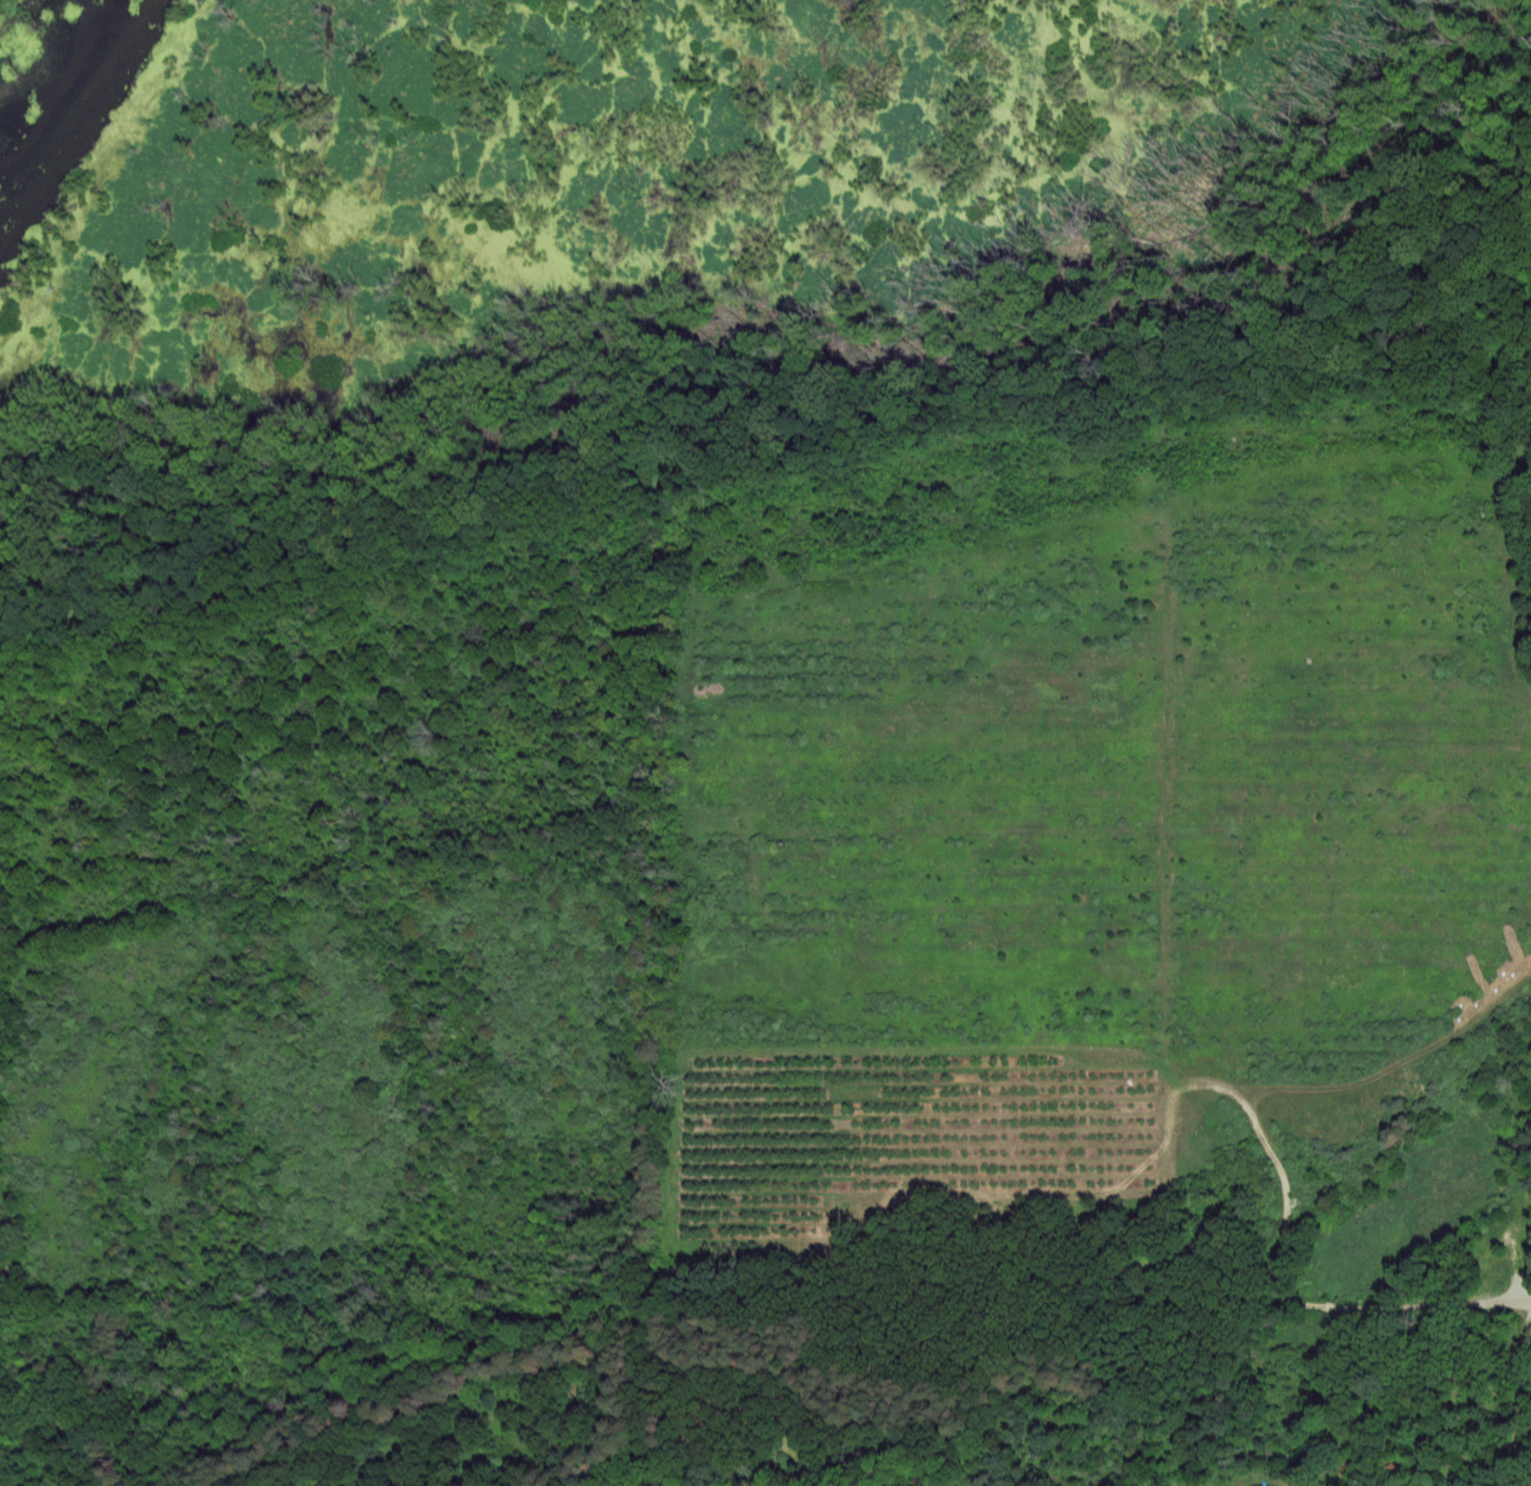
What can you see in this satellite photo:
road: (1516, 1307)

